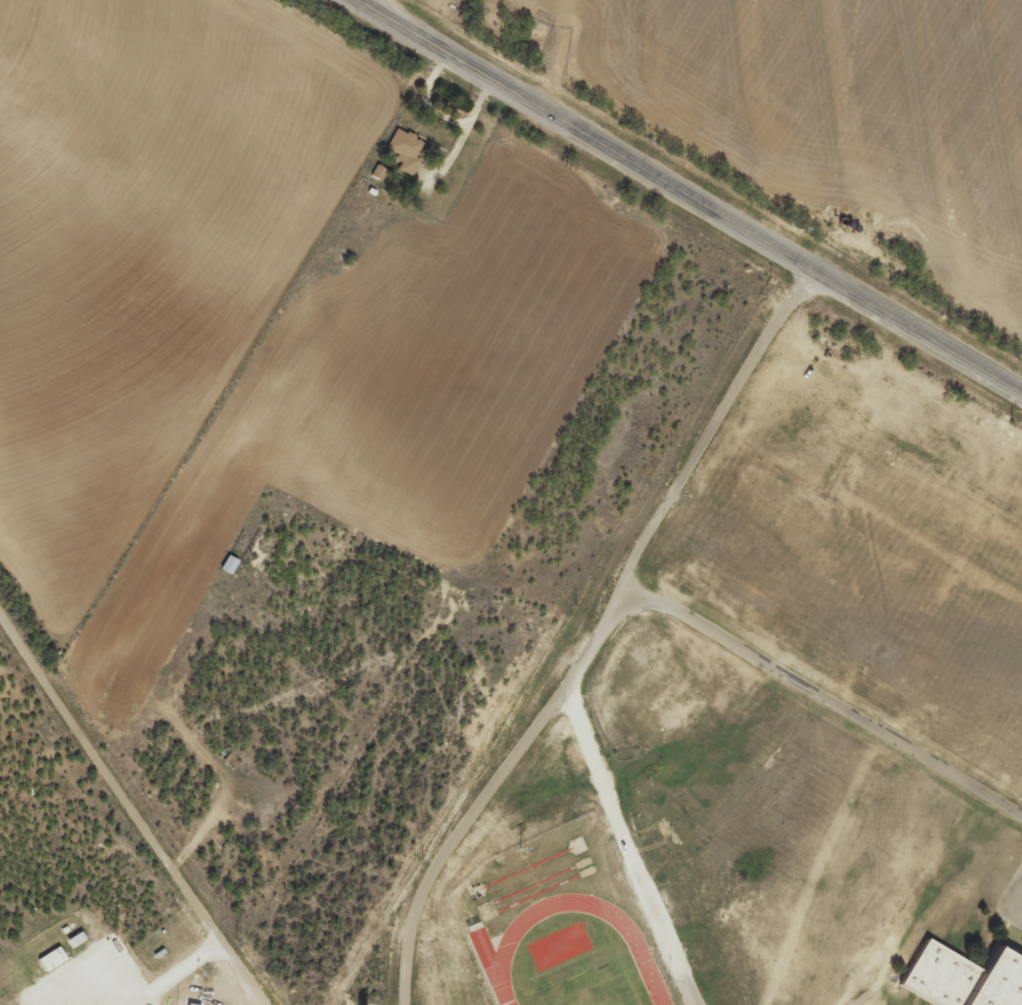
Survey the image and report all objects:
building: (405, 149)
road: (641, 186)
road: (990, 391)
building: (229, 564)
road: (591, 642)
road: (819, 693)
road: (123, 819)
road: (628, 845)
road: (1006, 896)
track: (583, 900)
parking lot: (1020, 903)
building: (52, 959)
track: (490, 967)
building: (964, 972)

